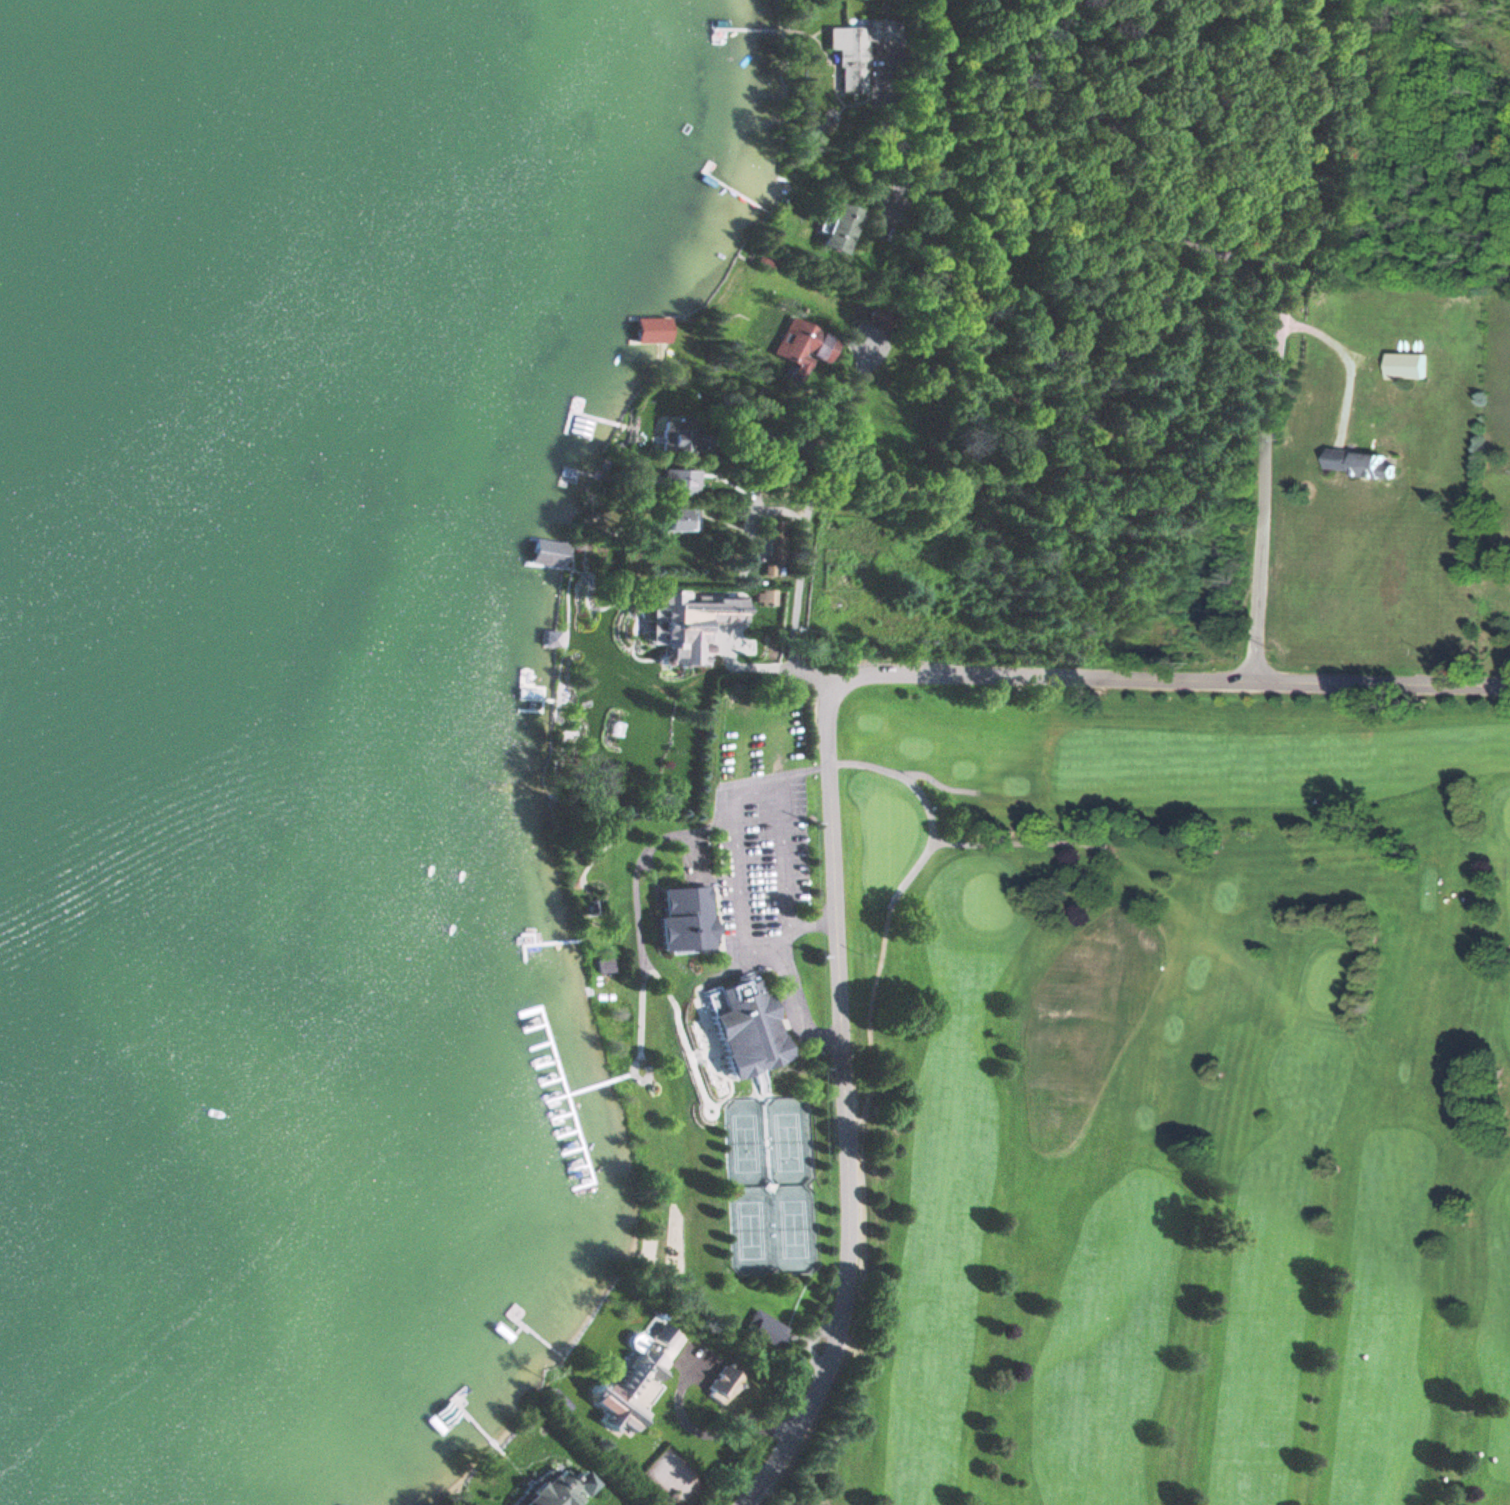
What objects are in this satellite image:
building: (857, 50)
road: (1103, 194)
building: (841, 226)
building: (652, 329)
road: (1278, 340)
building: (1408, 365)
building: (587, 424)
building: (679, 439)
building: (1366, 462)
building: (677, 482)
building: (679, 518)
building: (773, 544)
building: (547, 553)
building: (764, 596)
building: (666, 620)
building: (549, 638)
road: (1044, 676)
road: (1381, 683)
road: (736, 841)
parking lot: (767, 879)
building: (688, 917)
road: (701, 989)
building: (745, 1027)
park: (1078, 1074)
road: (846, 1108)
park: (769, 1186)
building: (641, 1372)
building: (556, 1492)

